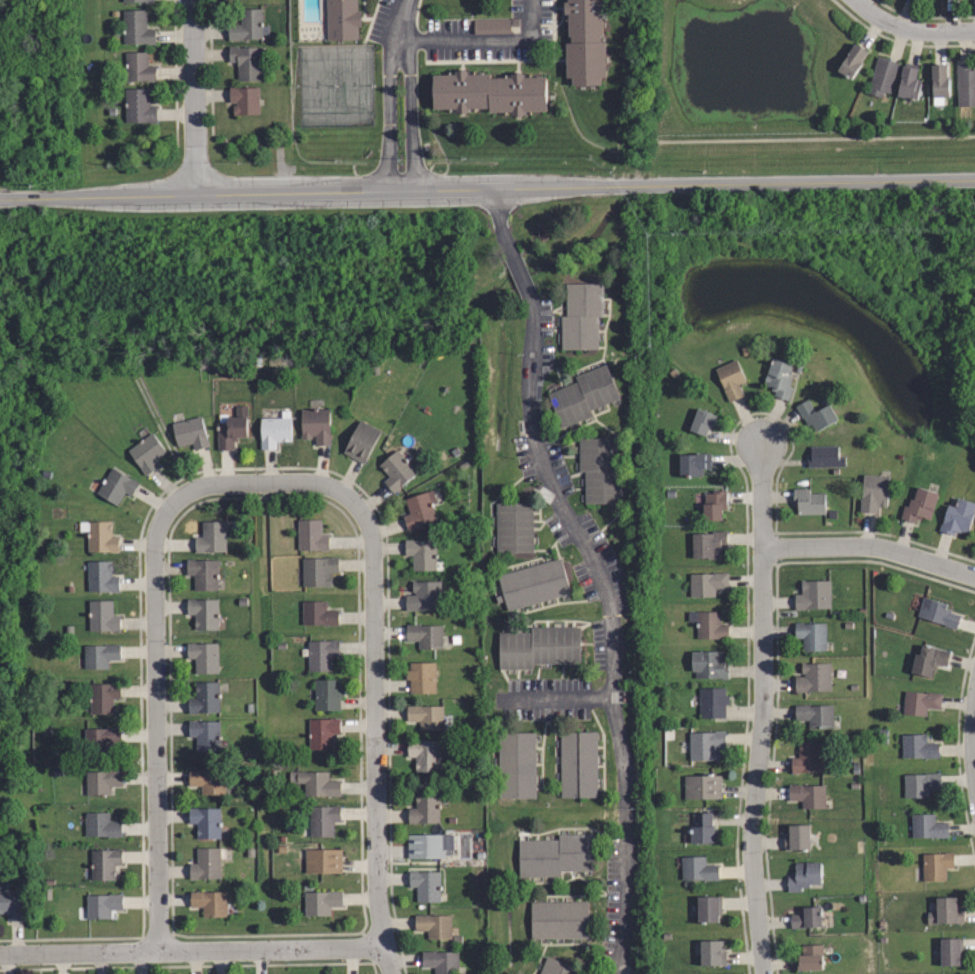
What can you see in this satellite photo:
building: (137, 1)
road: (859, 3)
building: (342, 19)
building: (247, 26)
building: (492, 27)
building: (135, 28)
road: (915, 30)
road: (480, 38)
building: (585, 42)
building: (245, 61)
building: (852, 61)
building: (137, 69)
building: (883, 77)
building: (910, 81)
building: (940, 84)
building: (966, 86)
building: (489, 92)
road: (400, 94)
road: (193, 97)
building: (244, 99)
building: (138, 107)
road: (487, 188)
building: (582, 315)
building: (780, 379)
building: (729, 381)
building: (583, 395)
building: (816, 414)
building: (702, 422)
building: (316, 426)
building: (231, 429)
building: (190, 432)
building: (274, 432)
building: (361, 439)
building: (147, 451)
building: (824, 455)
building: (694, 464)
building: (396, 468)
building: (600, 470)
building: (117, 487)
building: (873, 494)
building: (808, 501)
building: (921, 506)
building: (713, 507)
building: (419, 508)
building: (958, 518)
building: (514, 526)
building: (312, 534)
building: (100, 535)
building: (210, 536)
building: (707, 543)
road: (870, 546)
building: (421, 552)
building: (318, 570)
road: (597, 572)
building: (203, 573)
building: (101, 576)
building: (706, 582)
building: (533, 583)
building: (813, 594)
building: (424, 595)
building: (201, 612)
building: (317, 613)
building: (937, 614)
building: (102, 616)
building: (709, 624)
building: (811, 633)
building: (424, 636)
building: (539, 647)
building: (321, 654)
building: (99, 655)
building: (202, 657)
building: (928, 660)
building: (708, 665)
building: (421, 675)
road: (154, 676)
road: (763, 676)
building: (812, 677)
road: (374, 688)
building: (326, 694)
building: (103, 697)
building: (204, 698)
road: (554, 699)
building: (712, 704)
building: (920, 704)
building: (426, 714)
building: (813, 715)
building: (321, 733)
building: (204, 736)
building: (100, 737)
road: (973, 741)
building: (704, 744)
building: (917, 746)
building: (424, 754)
building: (807, 760)
building: (579, 763)
building: (517, 764)
building: (207, 780)
building: (102, 781)
building: (315, 782)
building: (919, 784)
building: (702, 786)
building: (807, 796)
building: (425, 807)
building: (323, 819)
building: (206, 821)
building: (101, 825)
building: (927, 828)
building: (702, 829)
building: (795, 838)
building: (430, 845)
building: (556, 855)
building: (323, 861)
building: (104, 863)
building: (206, 864)
building: (935, 866)
building: (698, 867)
building: (803, 877)
building: (425, 885)
building: (209, 902)
building: (321, 902)
building: (11, 904)
building: (102, 905)
building: (710, 908)
building: (944, 910)
building: (807, 917)
building: (559, 919)
building: (434, 925)
road: (760, 941)
road: (193, 950)
building: (712, 951)
building: (952, 951)
building: (810, 958)
building: (440, 961)
building: (558, 967)

